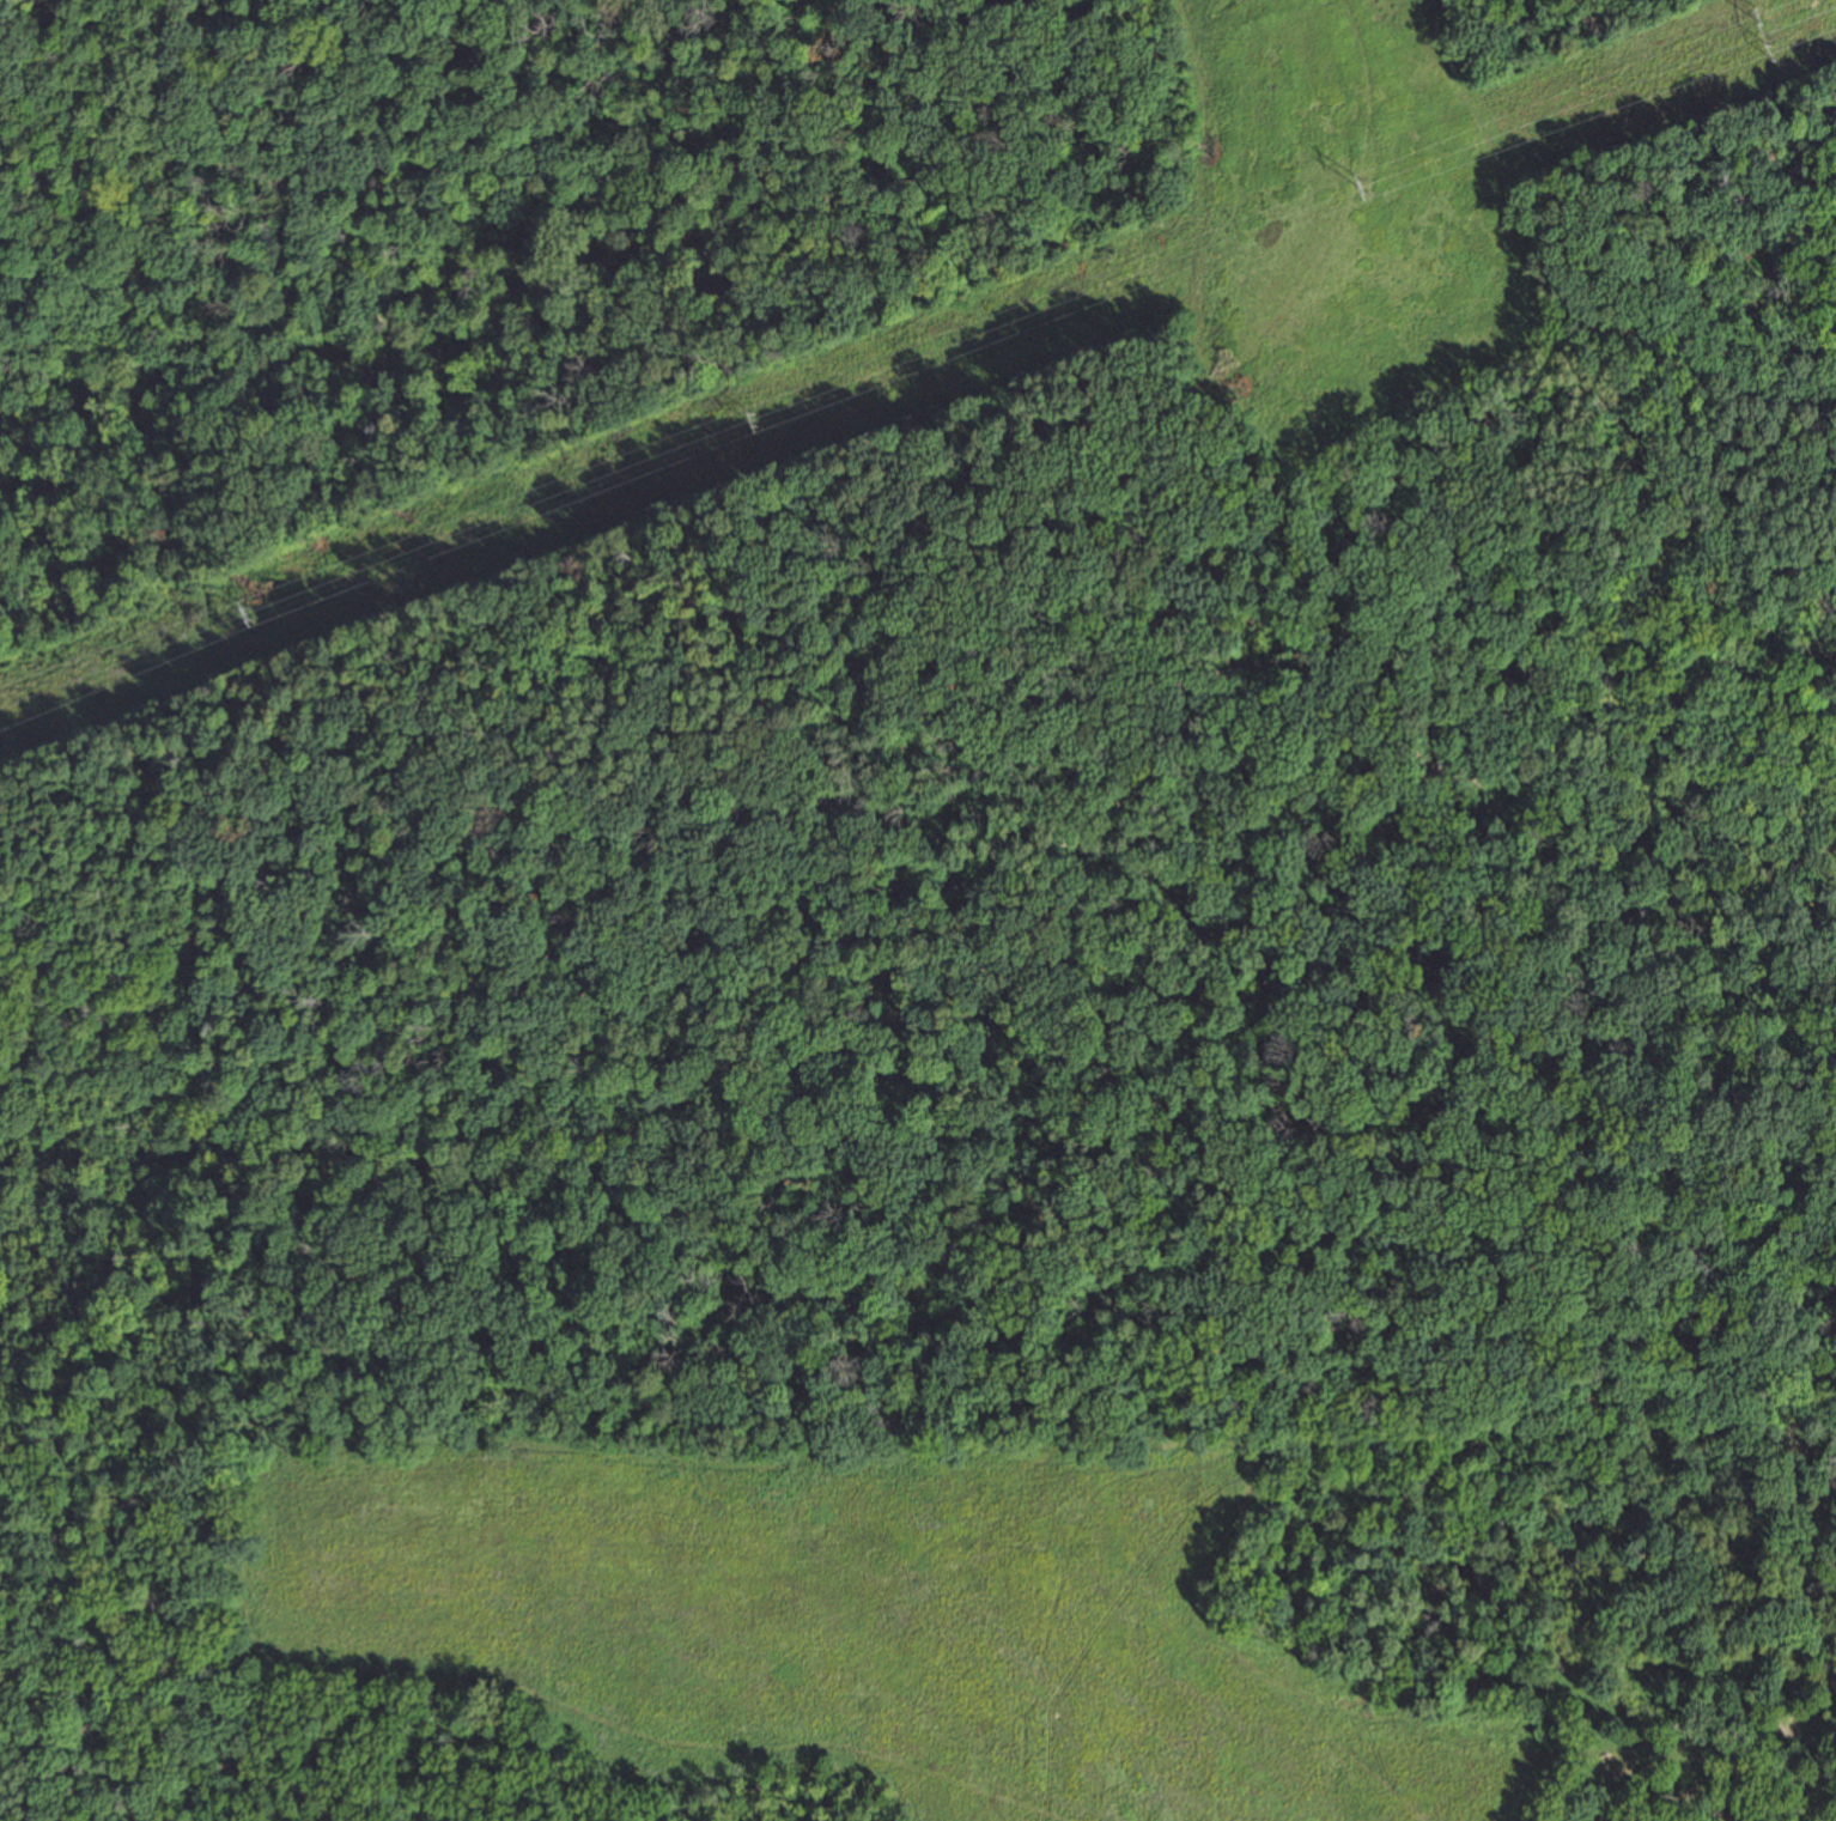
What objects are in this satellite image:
power tower: (1761, 35)
power tower: (1360, 189)
power tower: (759, 419)
power tower: (248, 614)

